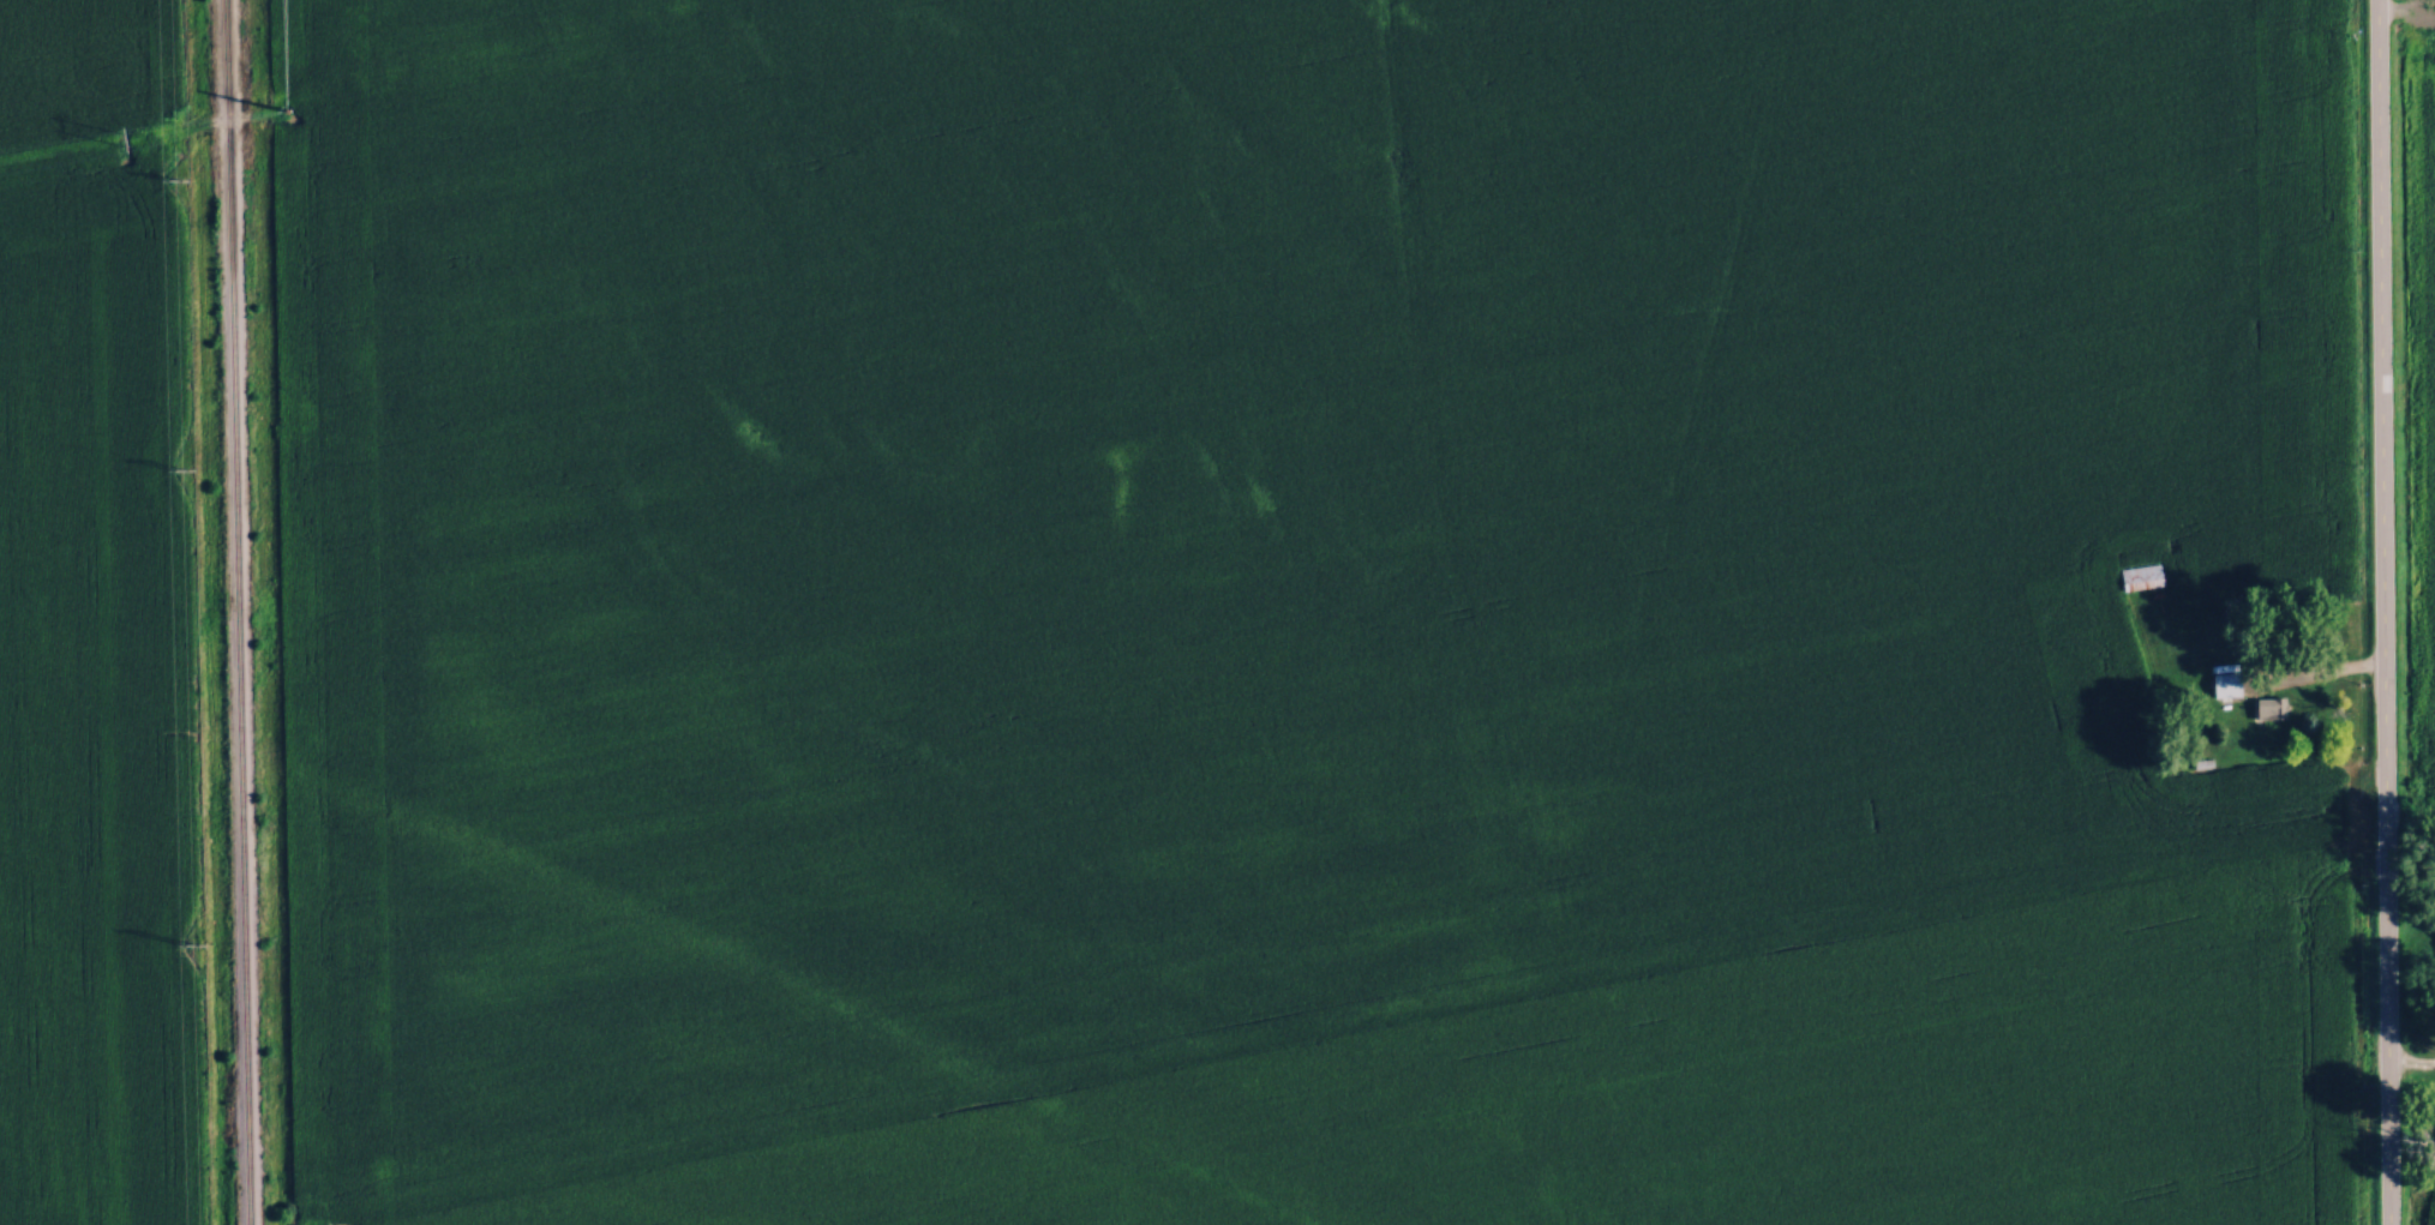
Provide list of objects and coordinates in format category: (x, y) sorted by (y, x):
power tower: (300, 106)
power tower: (143, 136)
power tower: (188, 175)
power tower: (194, 470)
building: (2139, 576)
railway: (238, 612)
road: (2381, 612)
road: (2298, 677)
building: (2268, 707)
power tower: (204, 941)
road: (2411, 1067)

